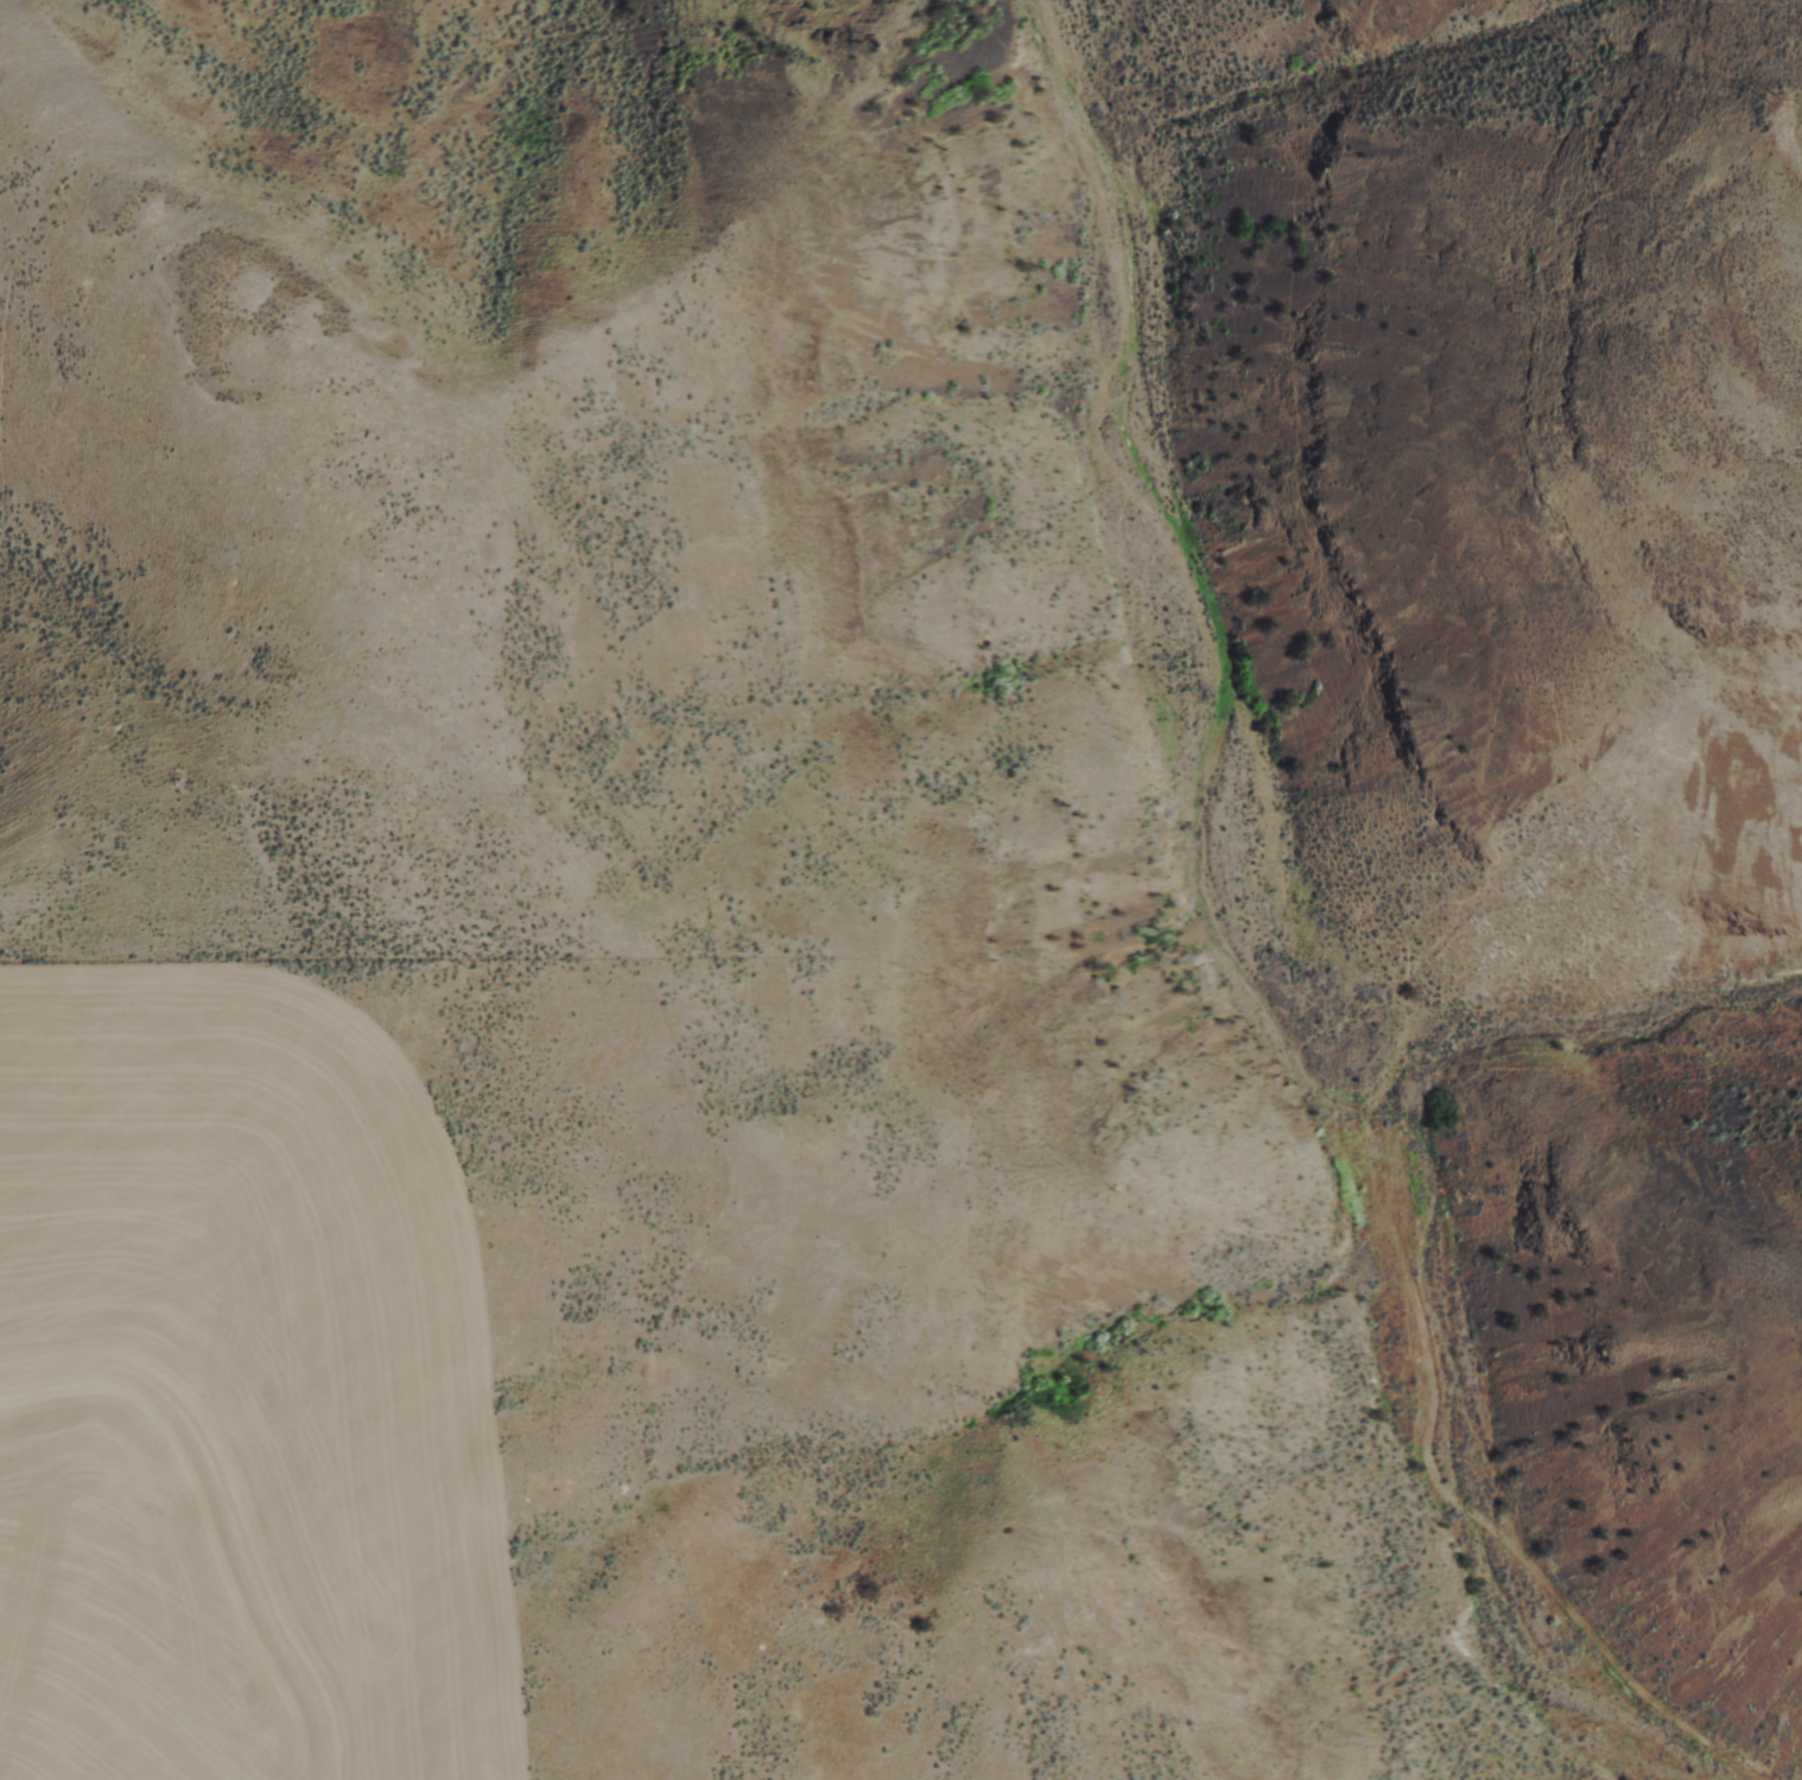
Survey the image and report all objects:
power tower: (1774, 100)

